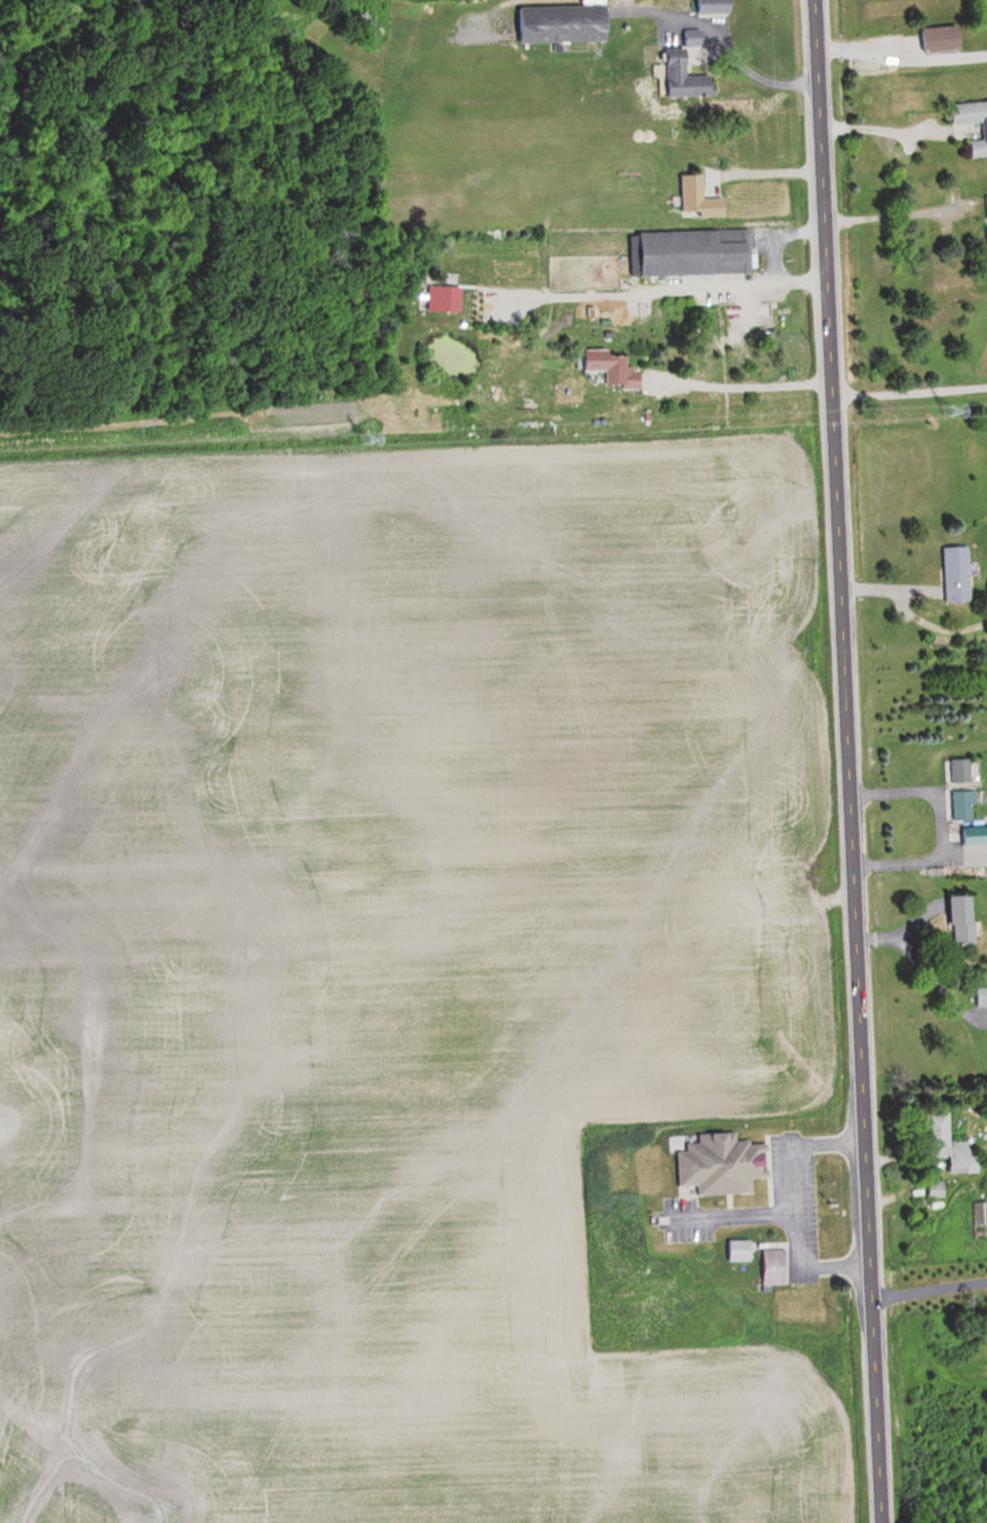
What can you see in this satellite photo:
building: (706, 5)
building: (557, 23)
building: (935, 38)
road: (760, 69)
building: (678, 76)
road: (881, 128)
building: (981, 132)
road: (763, 168)
building: (692, 198)
building: (985, 206)
road: (889, 214)
building: (984, 248)
building: (687, 252)
road: (766, 256)
building: (605, 367)
road: (745, 389)
road: (908, 394)
power tower: (946, 409)
power tower: (362, 437)
building: (952, 574)
road: (908, 613)
road: (845, 761)
building: (956, 771)
building: (959, 805)
road: (934, 824)
building: (971, 835)
building: (956, 920)
building: (979, 997)
building: (944, 1144)
building: (716, 1164)
building: (932, 1188)
road: (790, 1206)
building: (978, 1219)
building: (734, 1250)
building: (769, 1266)
road: (927, 1282)

